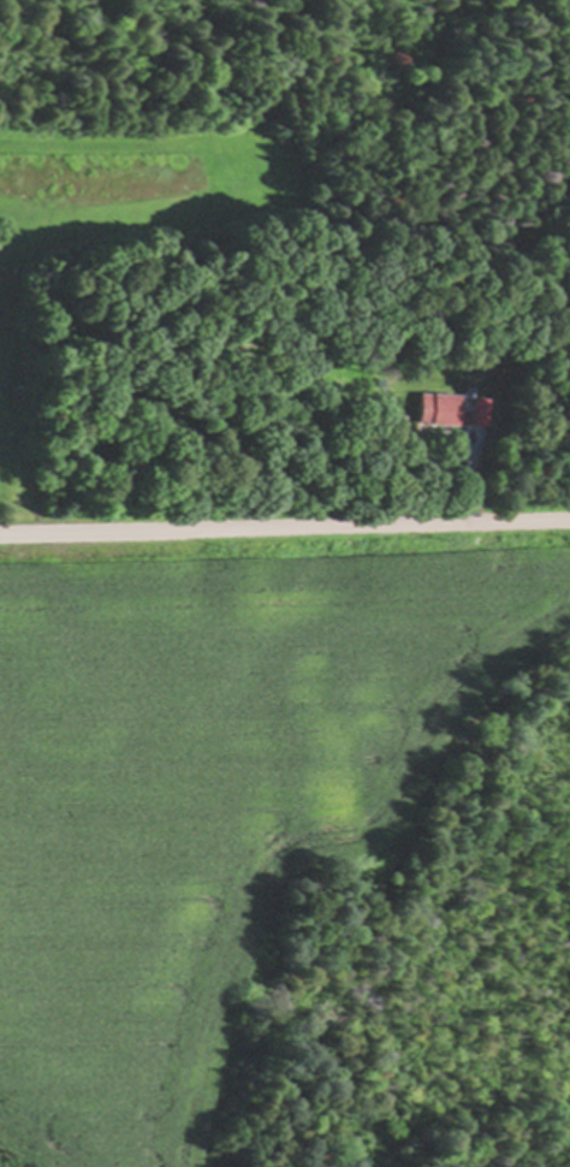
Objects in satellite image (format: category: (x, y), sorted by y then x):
building: (447, 414)
road: (445, 496)
road: (285, 527)

